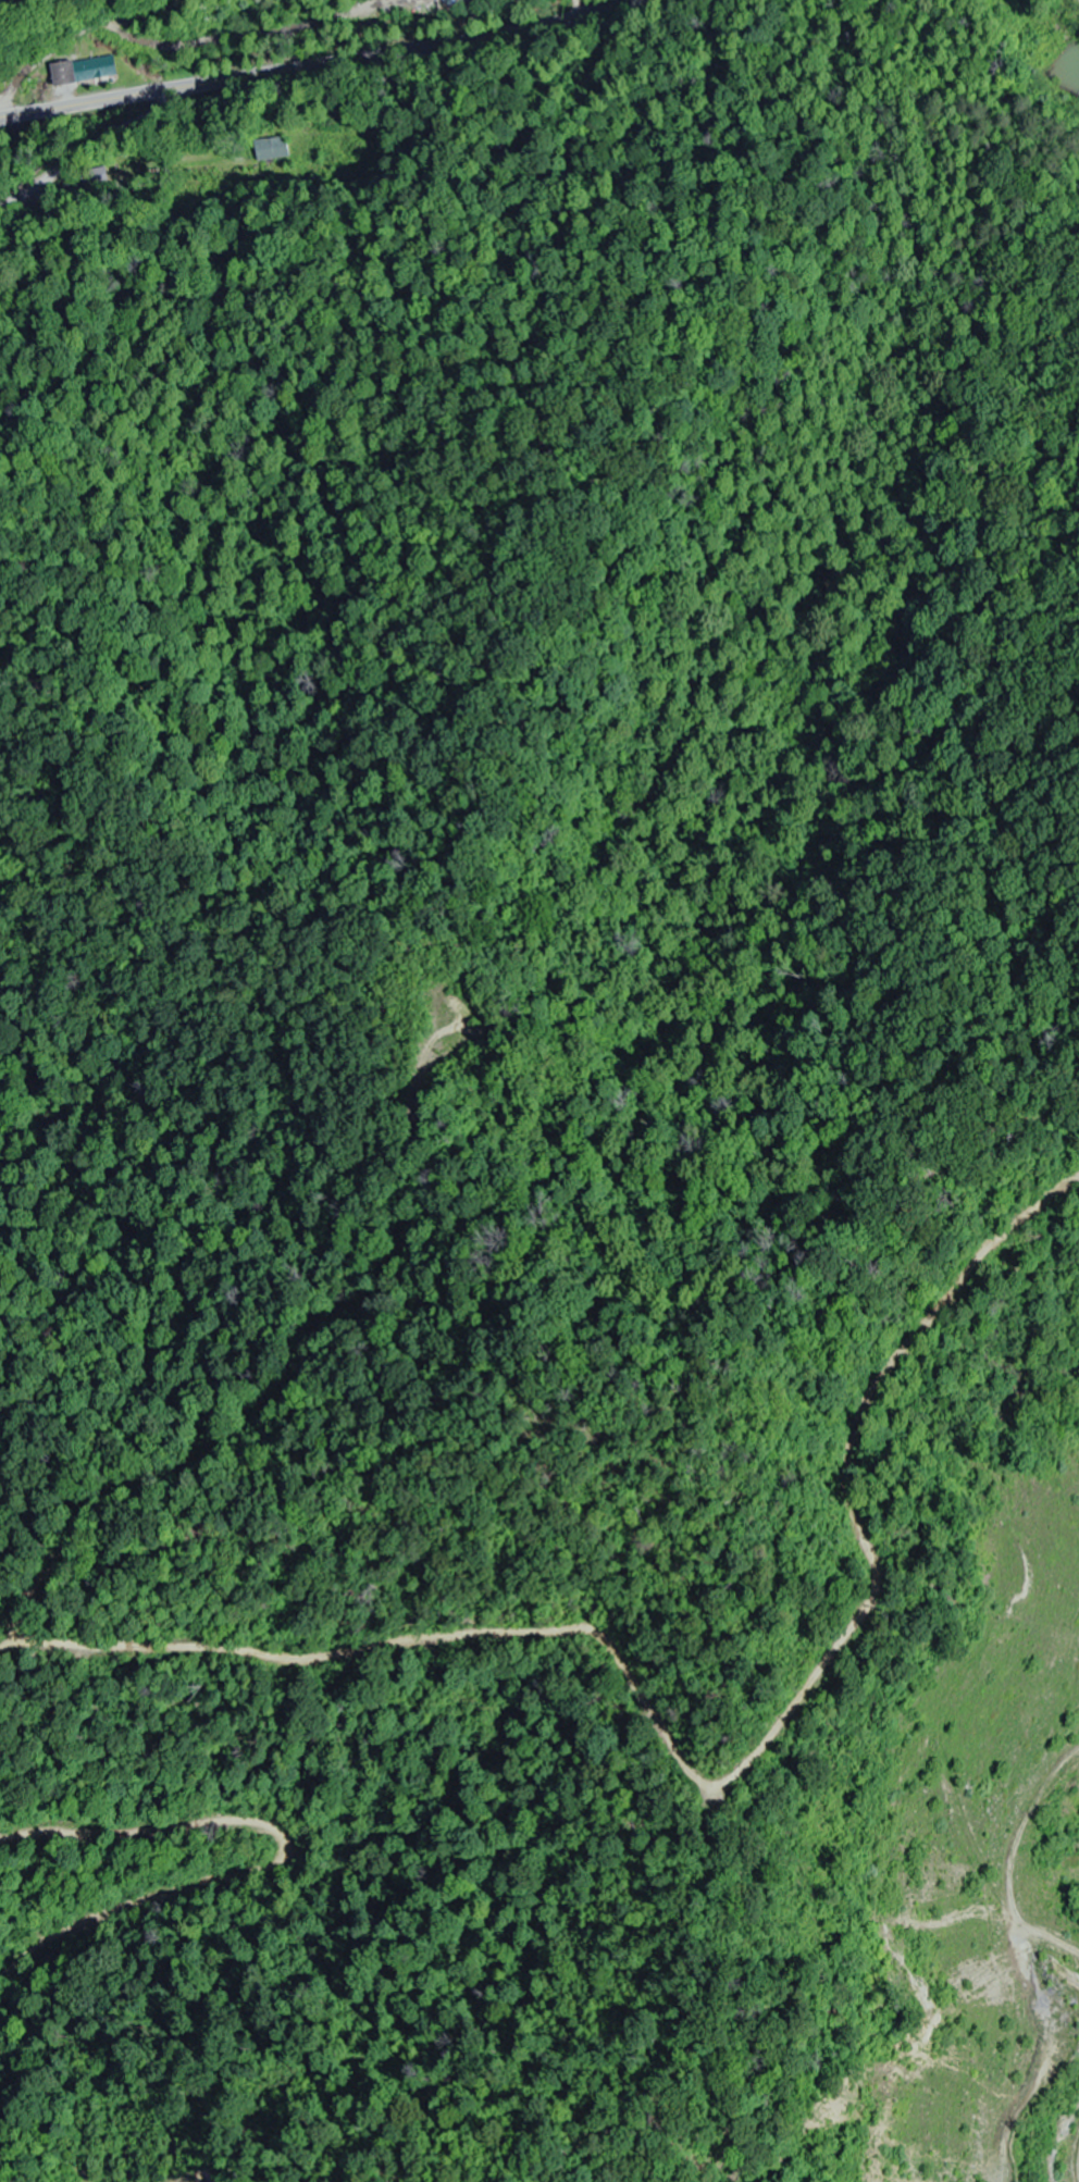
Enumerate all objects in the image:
road: (318, 66)
building: (84, 71)
building: (275, 150)

